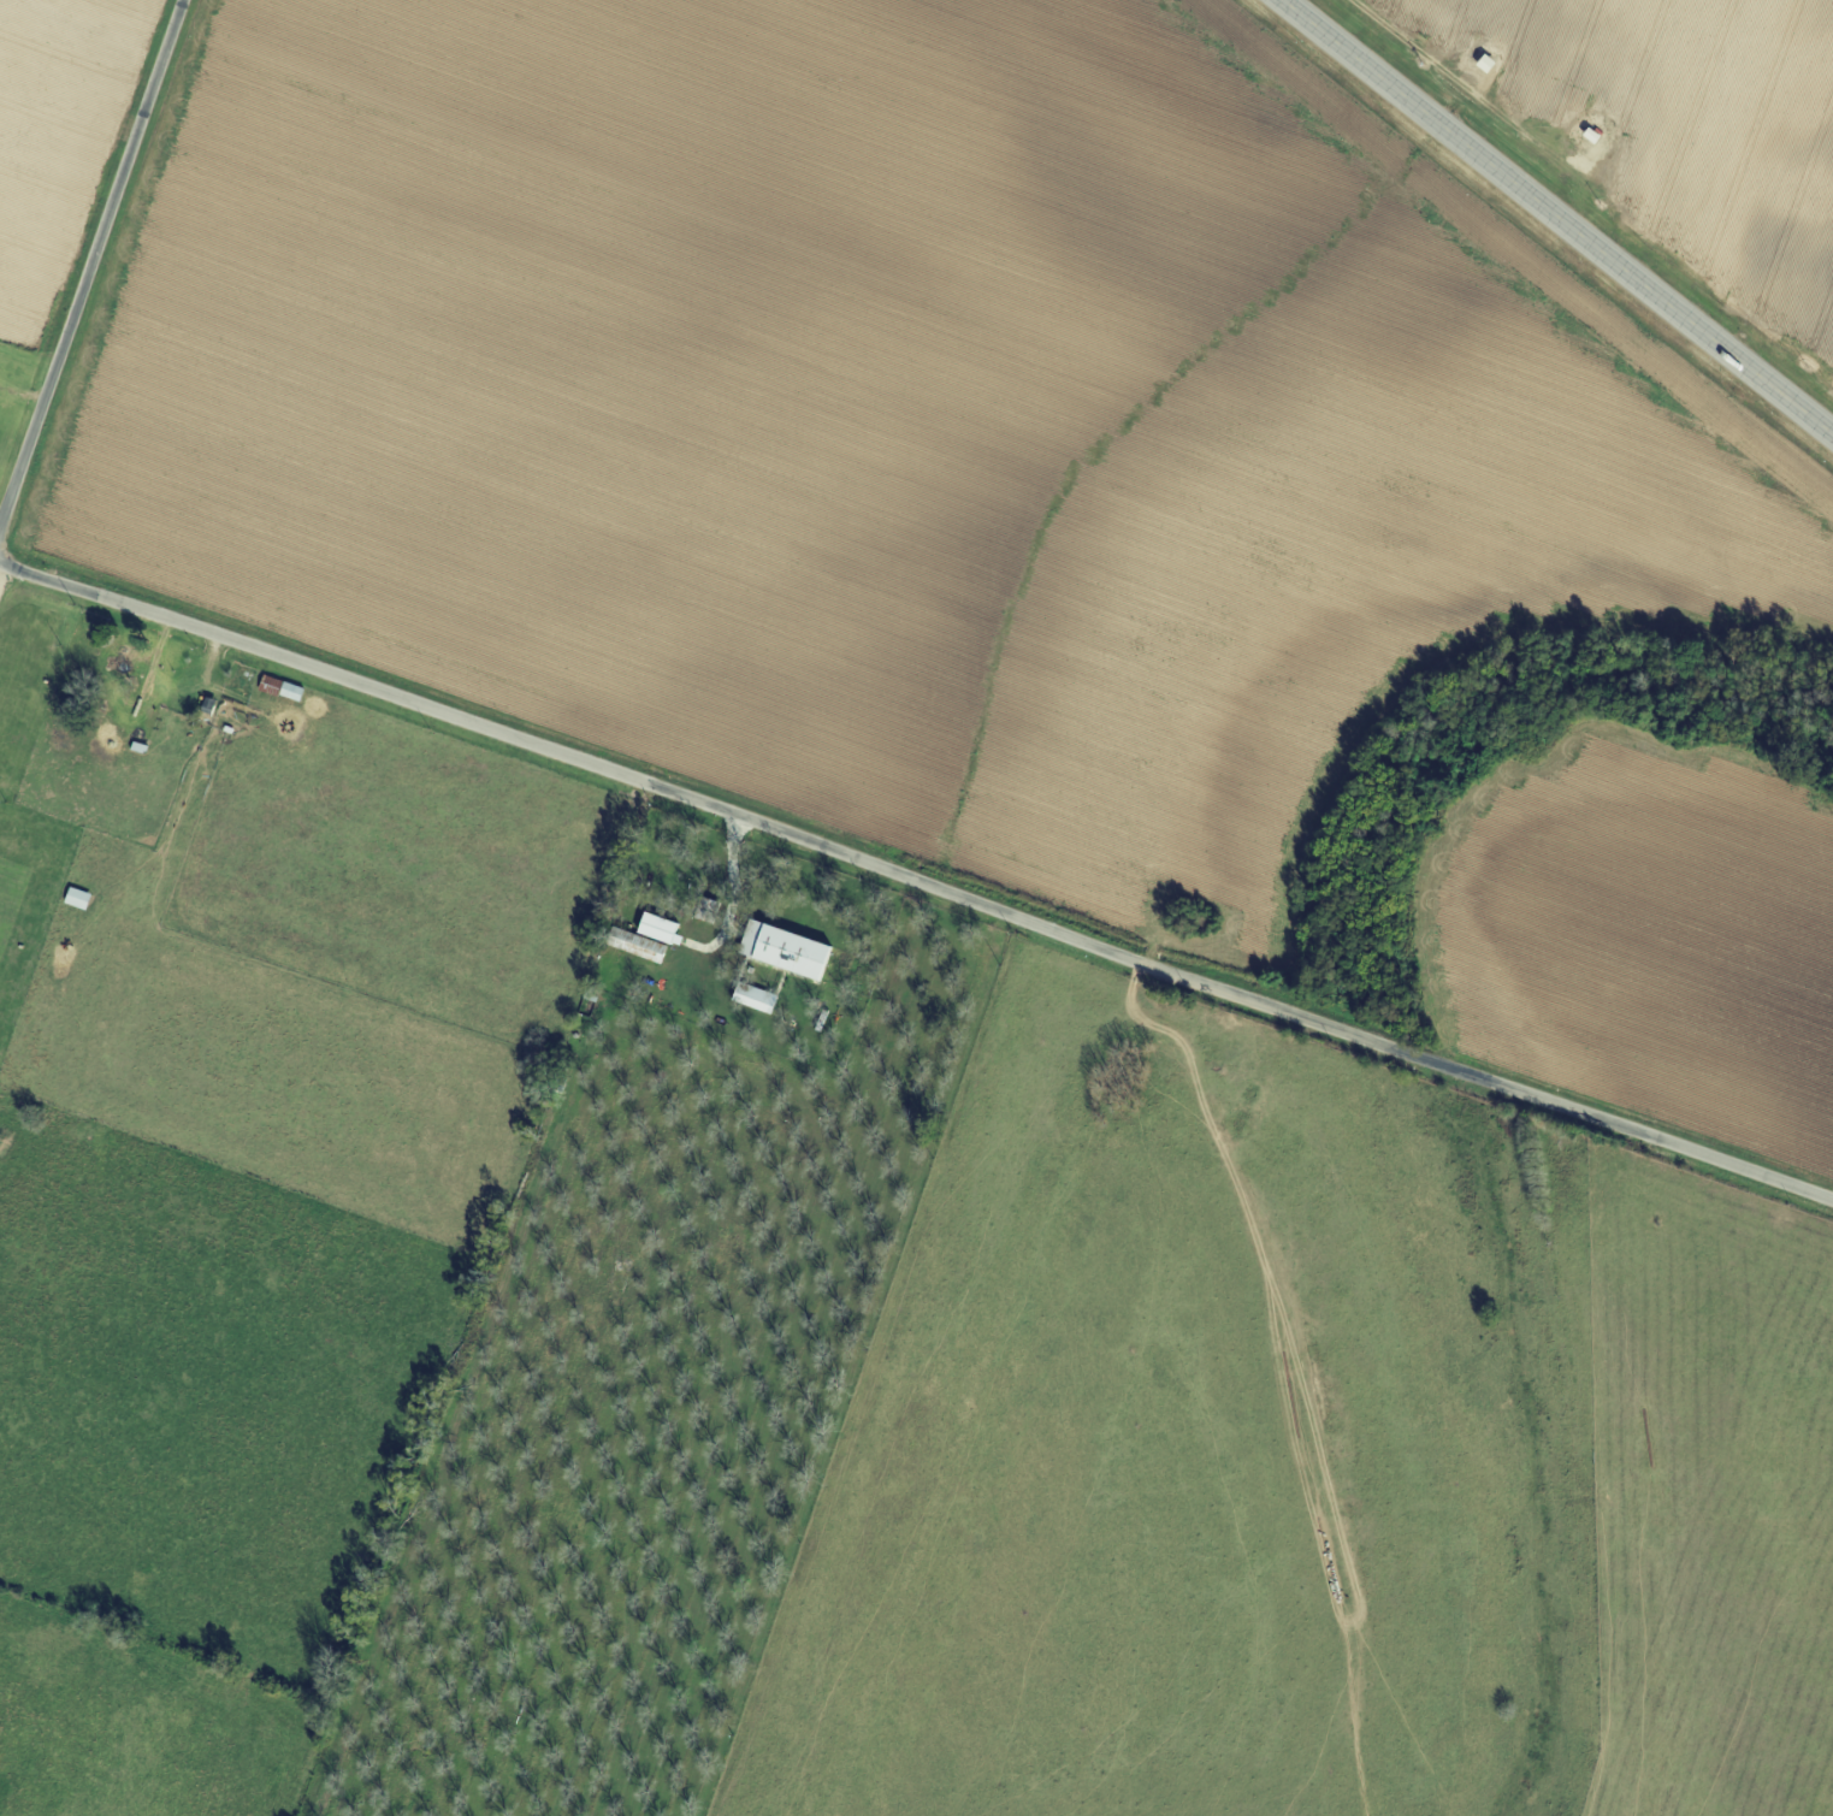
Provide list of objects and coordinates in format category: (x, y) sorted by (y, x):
building: (1488, 63)
road: (1559, 215)
railway: (1531, 239)
road: (89, 265)
road: (5, 579)
building: (284, 688)
road: (918, 871)
road: (731, 876)
building: (81, 898)
building: (662, 929)
building: (639, 945)
building: (788, 951)
building: (758, 998)

